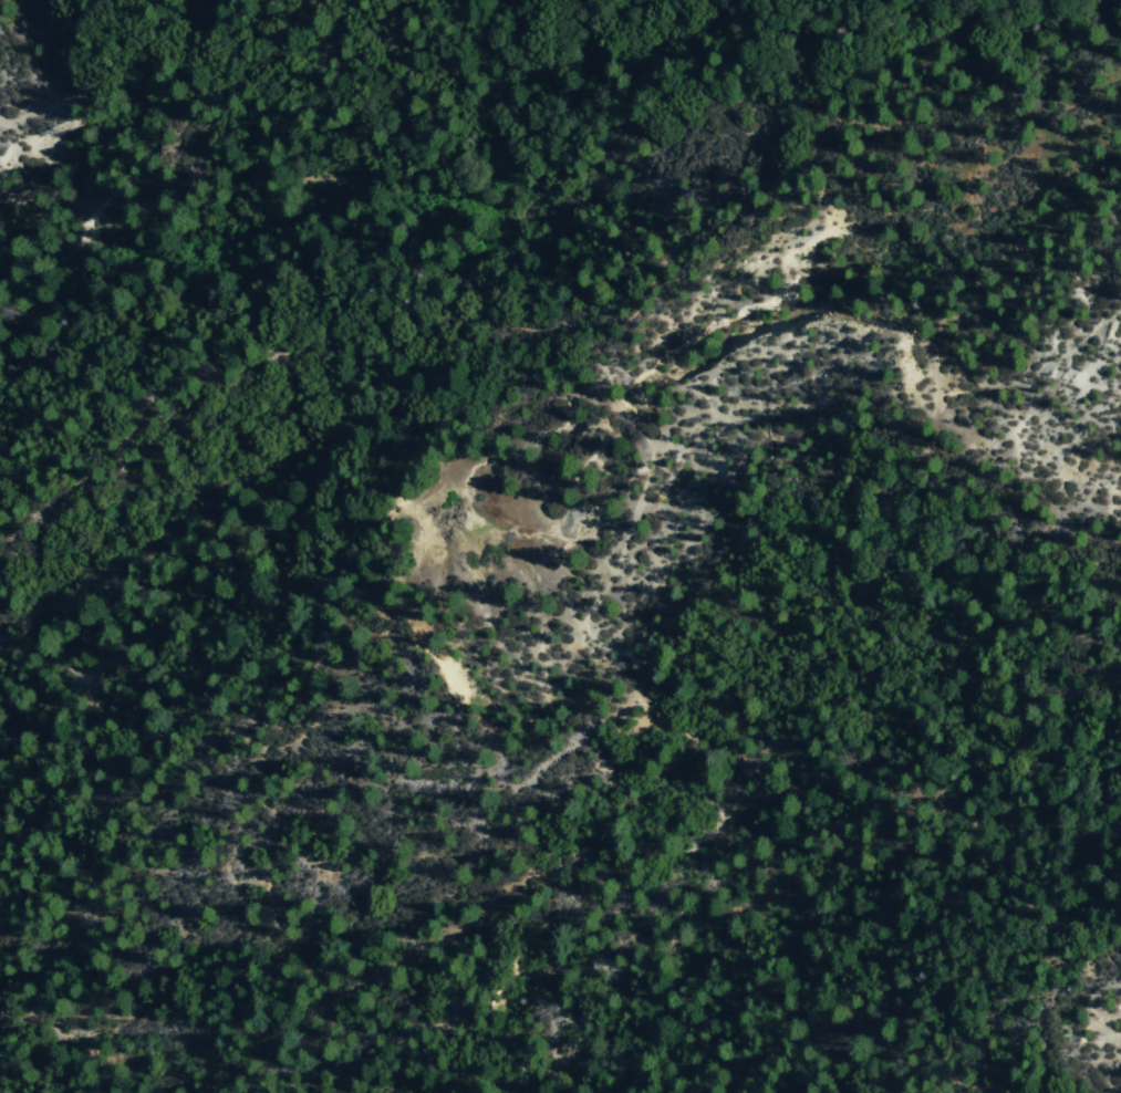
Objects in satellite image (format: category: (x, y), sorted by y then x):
road: (831, 959)
road: (255, 1053)

